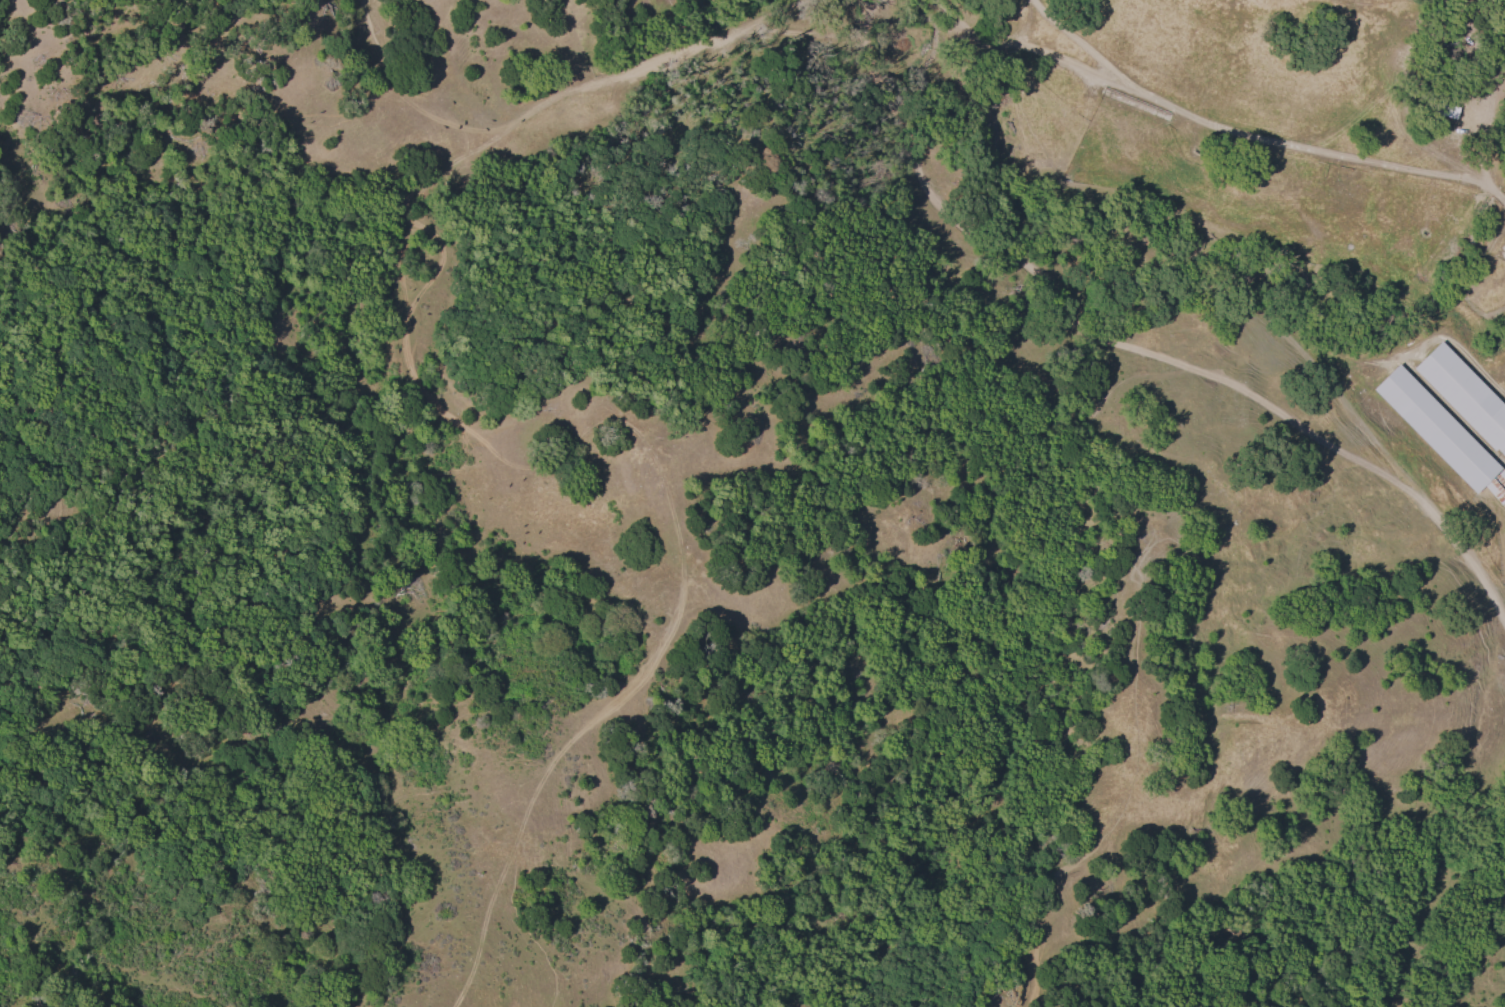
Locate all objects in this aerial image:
building: (1467, 391)
building: (1441, 432)

